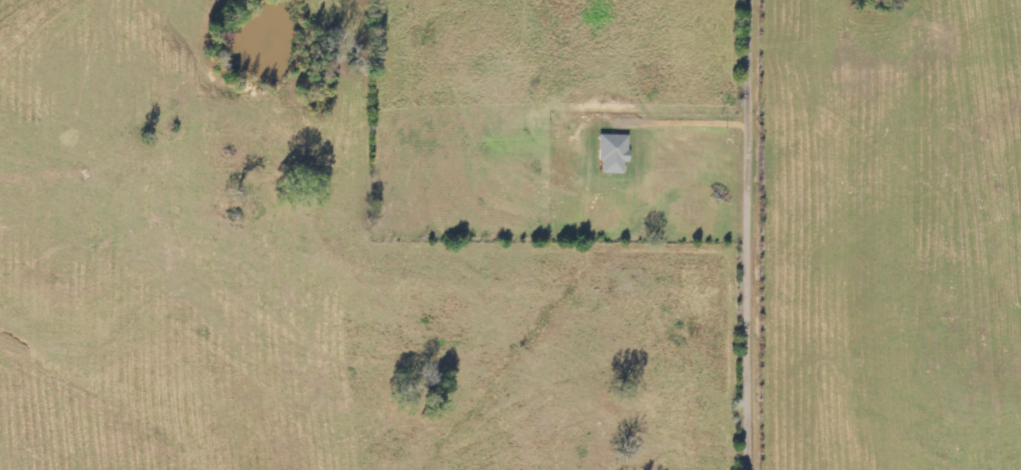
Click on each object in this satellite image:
building: (612, 154)
road: (756, 234)

